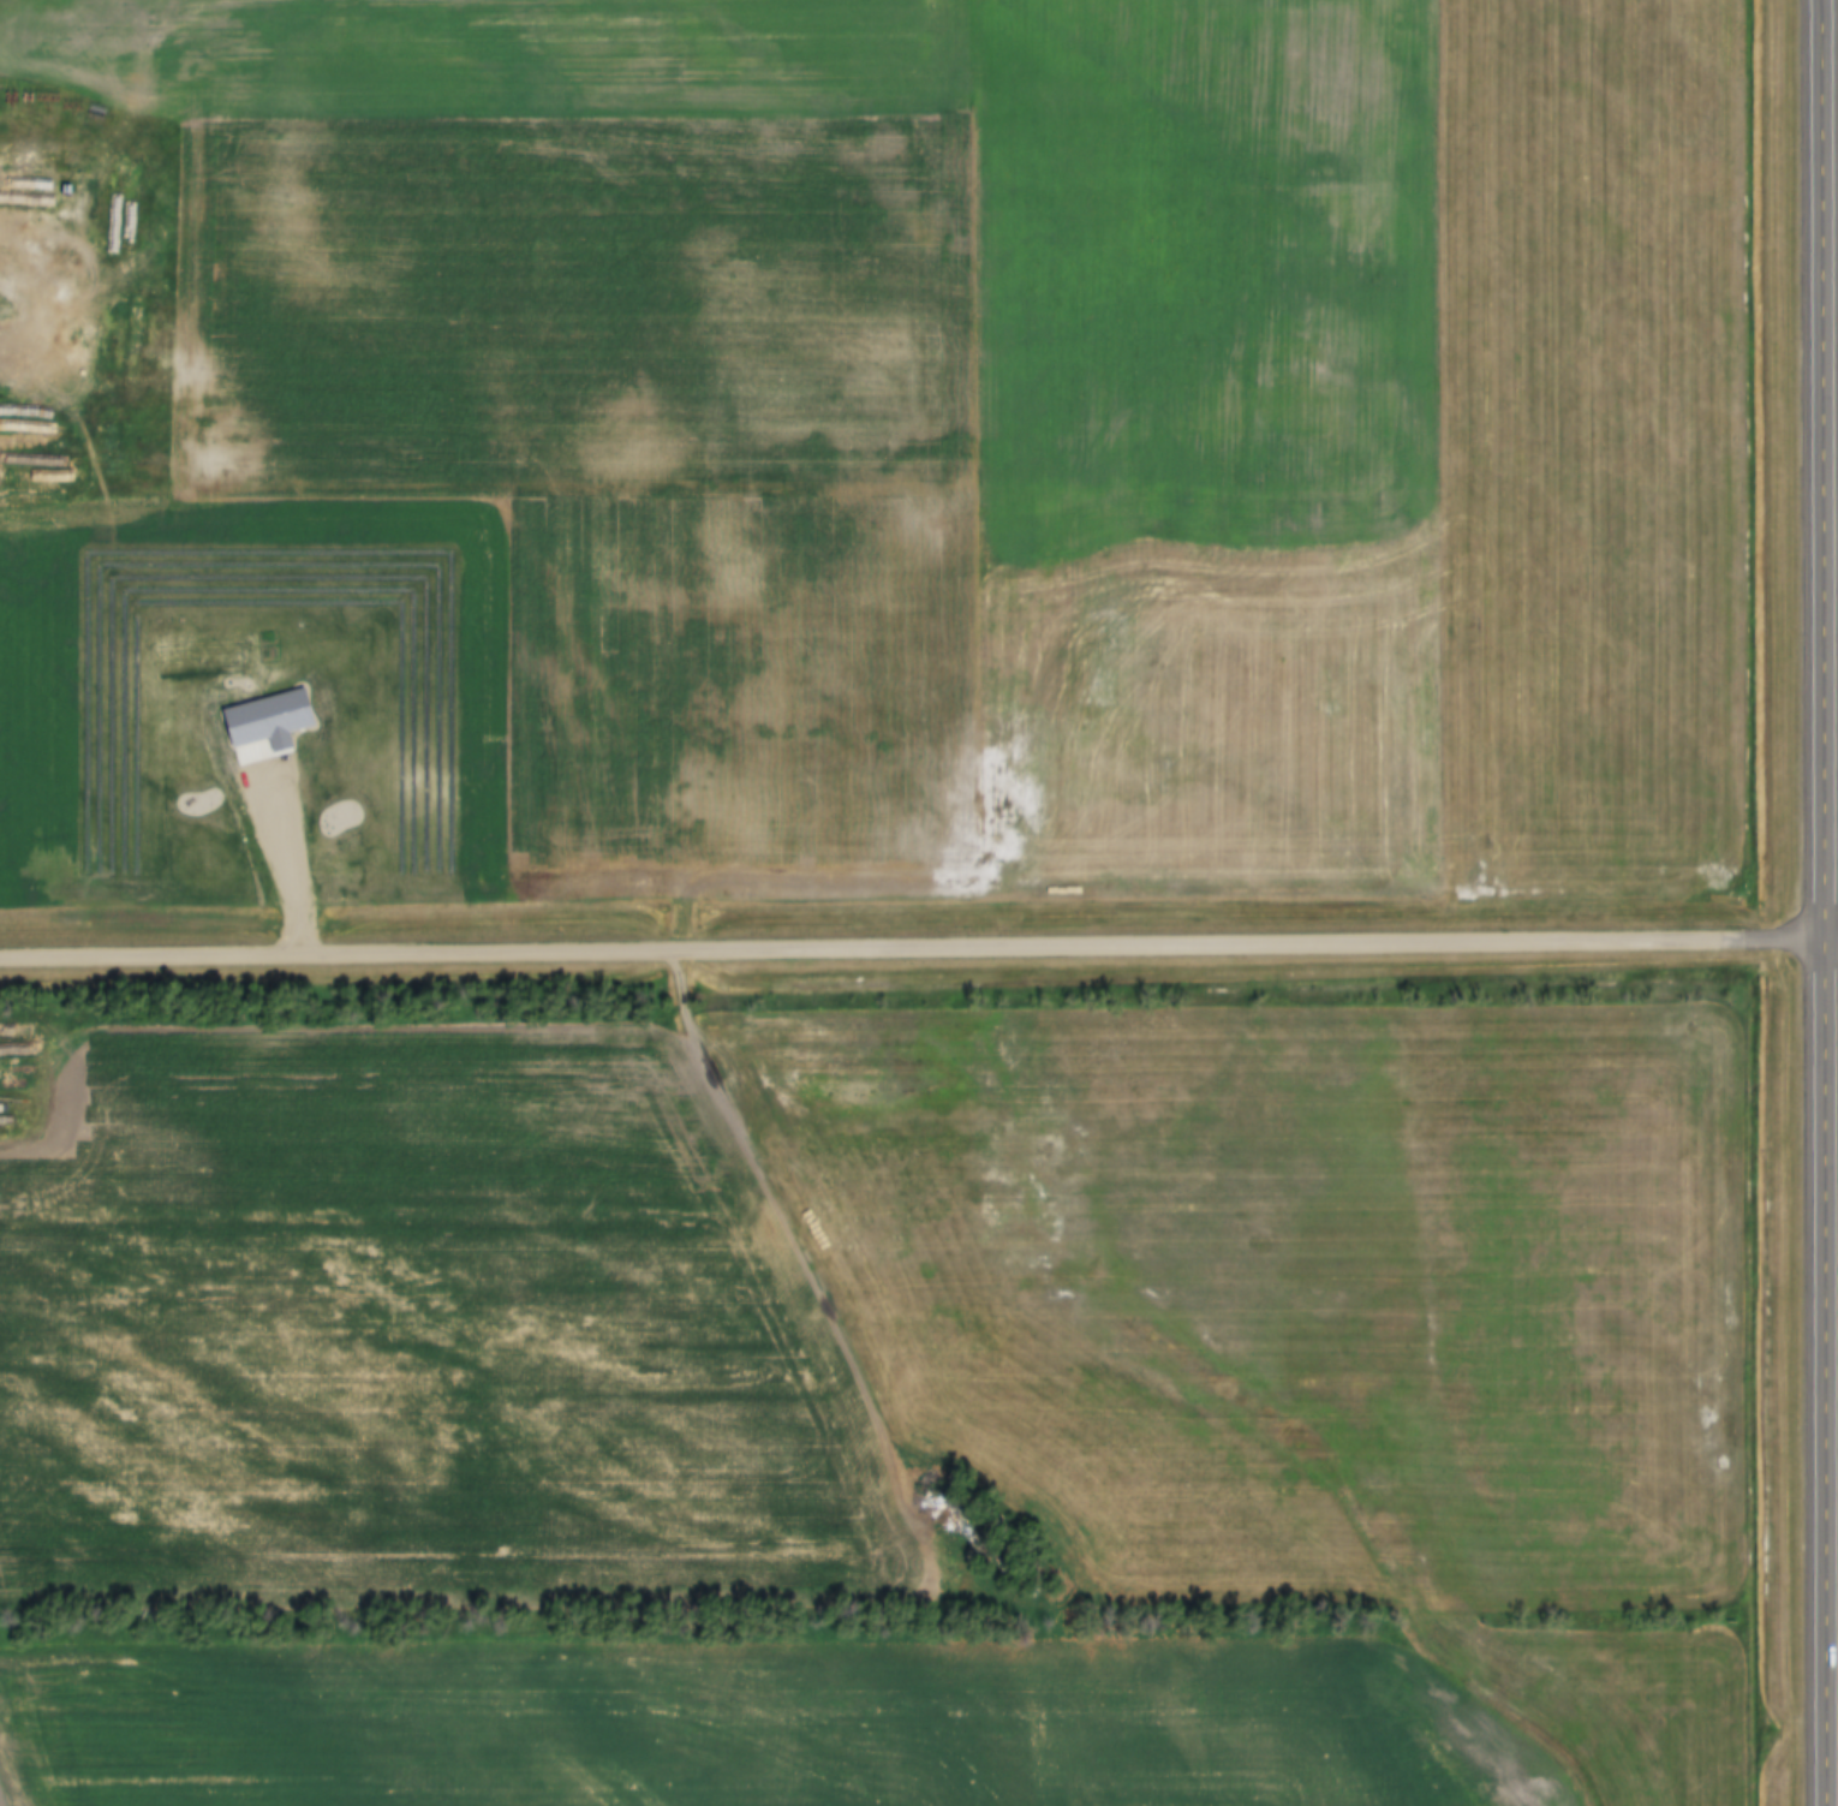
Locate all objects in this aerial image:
road: (919, 947)
road: (0, 1804)

